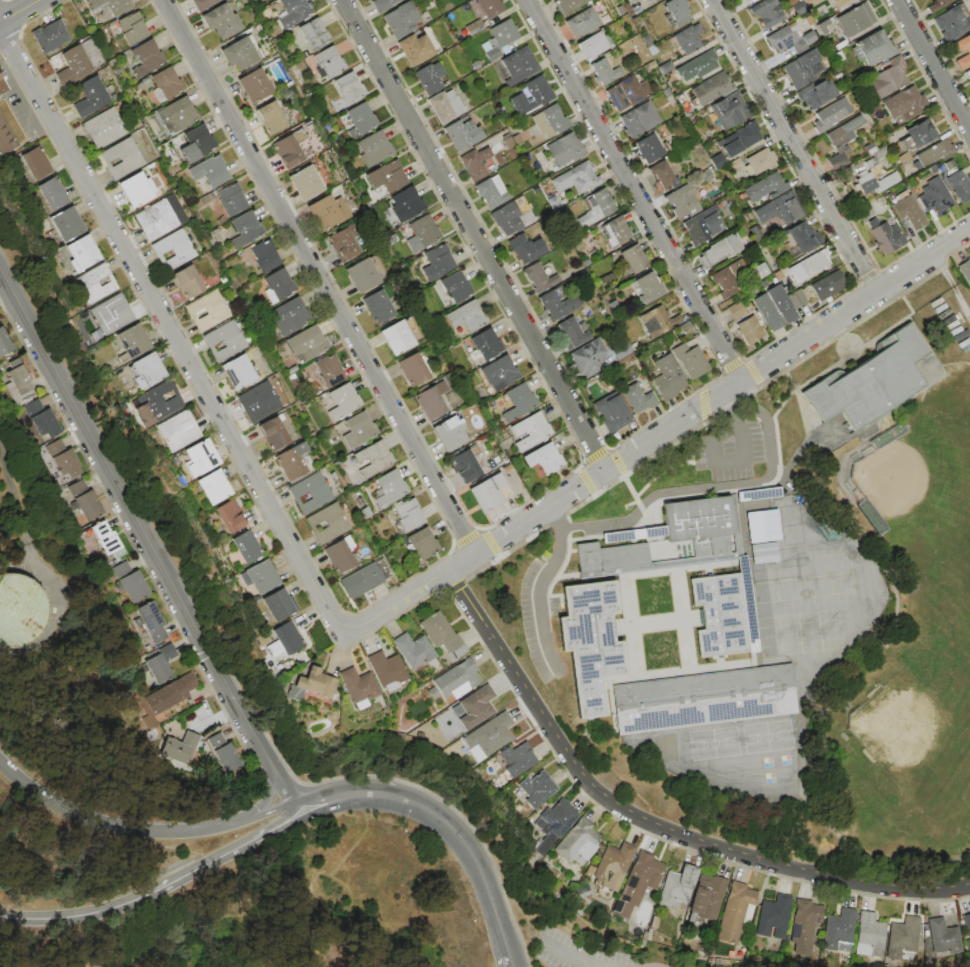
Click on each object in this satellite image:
building: (791, 2)
building: (200, 3)
building: (382, 4)
building: (567, 5)
building: (827, 5)
building: (936, 5)
building: (112, 6)
building: (490, 7)
building: (799, 8)
road: (18, 10)
building: (294, 12)
building: (767, 12)
building: (675, 13)
building: (401, 19)
building: (854, 19)
building: (221, 21)
building: (582, 22)
building: (952, 22)
building: (823, 26)
building: (474, 27)
building: (132, 28)
building: (313, 34)
building: (50, 36)
building: (499, 38)
building: (687, 38)
building: (789, 39)
building: (592, 46)
building: (873, 48)
building: (415, 49)
building: (967, 50)
building: (239, 54)
building: (146, 59)
building: (76, 61)
building: (328, 61)
building: (697, 65)
building: (519, 66)
building: (649, 66)
building: (665, 67)
road: (931, 67)
building: (803, 68)
building: (605, 72)
building: (967, 74)
building: (429, 77)
building: (886, 79)
building: (164, 84)
building: (254, 85)
building: (2, 87)
building: (712, 88)
building: (348, 90)
building: (626, 92)
building: (817, 92)
building: (532, 96)
building: (90, 97)
building: (905, 104)
building: (445, 105)
building: (728, 111)
building: (832, 114)
building: (177, 115)
building: (271, 118)
building: (360, 119)
building: (551, 120)
building: (639, 120)
building: (106, 127)
building: (460, 133)
building: (917, 134)
building: (5, 139)
building: (739, 139)
building: (842, 140)
building: (508, 143)
building: (196, 144)
road: (792, 144)
building: (374, 148)
building: (870, 148)
building: (566, 149)
building: (649, 149)
building: (288, 151)
building: (931, 154)
building: (903, 157)
building: (121, 158)
building: (717, 160)
building: (761, 161)
building: (35, 163)
building: (475, 163)
building: (734, 164)
building: (210, 171)
building: (662, 174)
building: (706, 175)
building: (386, 176)
building: (577, 178)
building: (305, 182)
building: (873, 182)
building: (959, 186)
building: (766, 187)
building: (136, 189)
road: (631, 189)
building: (491, 192)
building: (52, 193)
building: (935, 197)
building: (231, 199)
building: (683, 201)
building: (554, 202)
building: (406, 204)
building: (597, 207)
building: (779, 210)
building: (327, 211)
building: (909, 211)
building: (864, 212)
building: (507, 218)
building: (155, 219)
building: (67, 223)
building: (702, 226)
building: (245, 229)
building: (424, 231)
building: (616, 232)
road: (471, 233)
building: (804, 237)
building: (887, 238)
building: (344, 243)
building: (578, 244)
building: (526, 248)
building: (173, 249)
building: (721, 249)
building: (83, 252)
building: (265, 256)
building: (634, 258)
building: (439, 260)
building: (815, 262)
building: (586, 263)
building: (965, 270)
road: (316, 275)
building: (361, 275)
building: (541, 276)
building: (607, 278)
building: (732, 278)
building: (187, 282)
building: (95, 283)
building: (278, 285)
building: (828, 285)
building: (455, 287)
building: (647, 288)
building: (785, 302)
building: (559, 305)
building: (377, 306)
building: (208, 311)
building: (767, 311)
building: (112, 314)
building: (290, 316)
building: (466, 316)
building: (657, 321)
building: (743, 322)
road: (168, 330)
building: (571, 333)
building: (396, 337)
building: (132, 340)
building: (224, 340)
building: (4, 343)
building: (307, 343)
building: (483, 346)
building: (621, 353)
building: (588, 357)
building: (690, 360)
building: (148, 369)
building: (413, 369)
building: (238, 370)
building: (329, 370)
building: (500, 374)
building: (667, 378)
building: (872, 381)
building: (19, 385)
building: (638, 398)
building: (258, 401)
building: (431, 401)
building: (342, 403)
building: (518, 403)
building: (157, 404)
building: (612, 413)
building: (41, 419)
road: (658, 429)
building: (358, 430)
building: (178, 431)
building: (530, 431)
building: (273, 432)
building: (449, 433)
building: (202, 456)
building: (63, 458)
building: (373, 458)
building: (544, 458)
road: (735, 459)
building: (291, 461)
building: (465, 466)
building: (213, 487)
road: (712, 487)
building: (390, 488)
building: (310, 492)
building: (487, 493)
building: (758, 494)
building: (85, 500)
road: (131, 513)
building: (408, 514)
building: (230, 517)
building: (327, 523)
building: (689, 525)
building: (762, 528)
building: (107, 539)
building: (423, 543)
building: (246, 546)
building: (763, 552)
building: (340, 554)
building: (609, 556)
building: (260, 577)
building: (360, 580)
building: (130, 583)
road: (538, 583)
building: (278, 604)
water tower: (1, 609)
building: (18, 609)
building: (725, 612)
building: (150, 621)
building: (442, 635)
building: (285, 639)
building: (589, 642)
building: (413, 649)
building: (160, 663)
building: (387, 670)
building: (456, 680)
building: (311, 684)
building: (358, 687)
building: (170, 693)
building: (703, 699)
building: (474, 706)
building: (494, 732)
building: (180, 747)
building: (223, 752)
building: (517, 758)
road: (280, 780)
road: (270, 788)
building: (535, 789)
road: (271, 809)
road: (441, 820)
road: (648, 823)
building: (554, 824)
road: (115, 825)
building: (578, 842)
road: (226, 852)
building: (613, 865)
building: (637, 884)
building: (677, 887)
building: (708, 897)
building: (736, 913)
road: (77, 915)
building: (774, 917)
building: (967, 924)
building: (804, 925)
building: (837, 929)
building: (868, 935)
building: (942, 938)
building: (902, 939)
road: (569, 957)
road: (510, 961)

